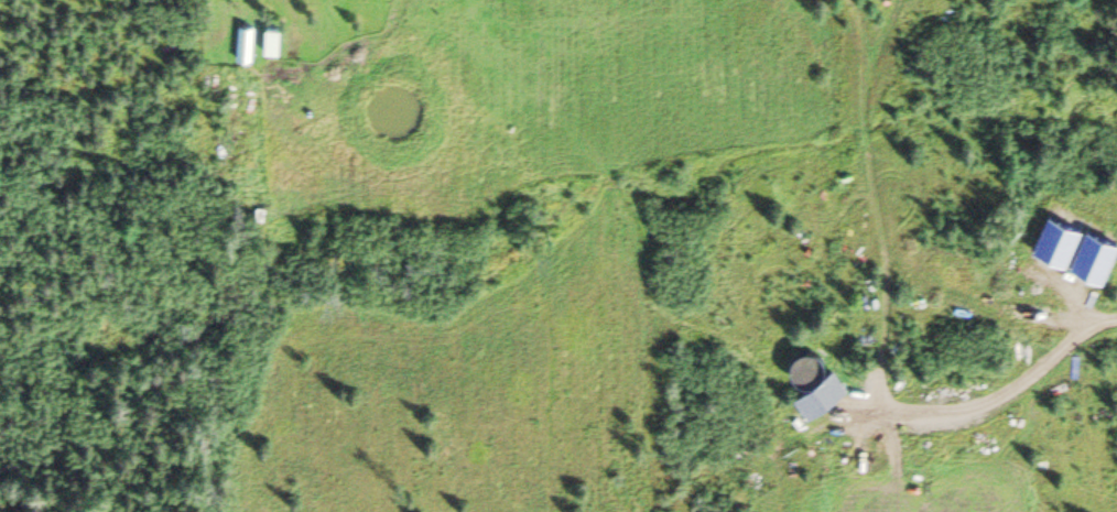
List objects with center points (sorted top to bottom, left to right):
building: (273, 36)
building: (246, 39)
building: (813, 361)

